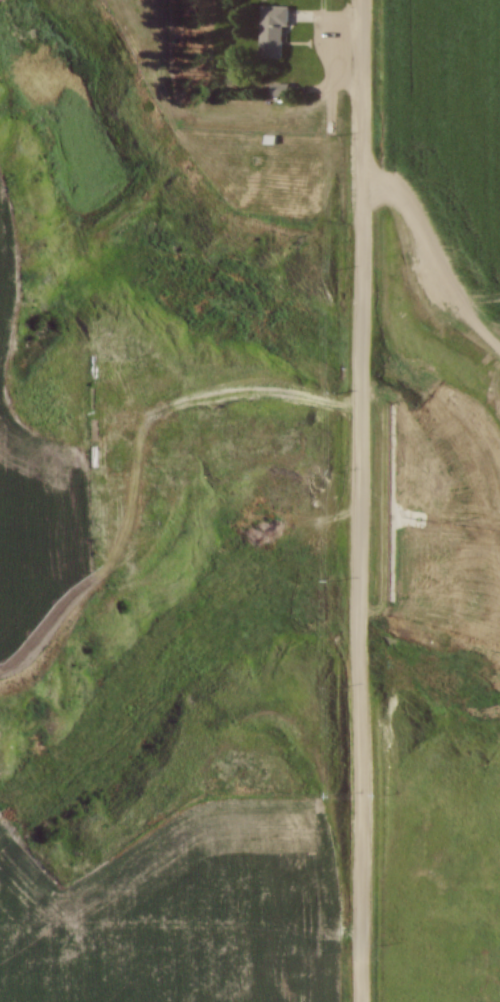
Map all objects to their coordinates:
building: (276, 33)
road: (434, 260)
building: (97, 443)
road: (361, 500)

